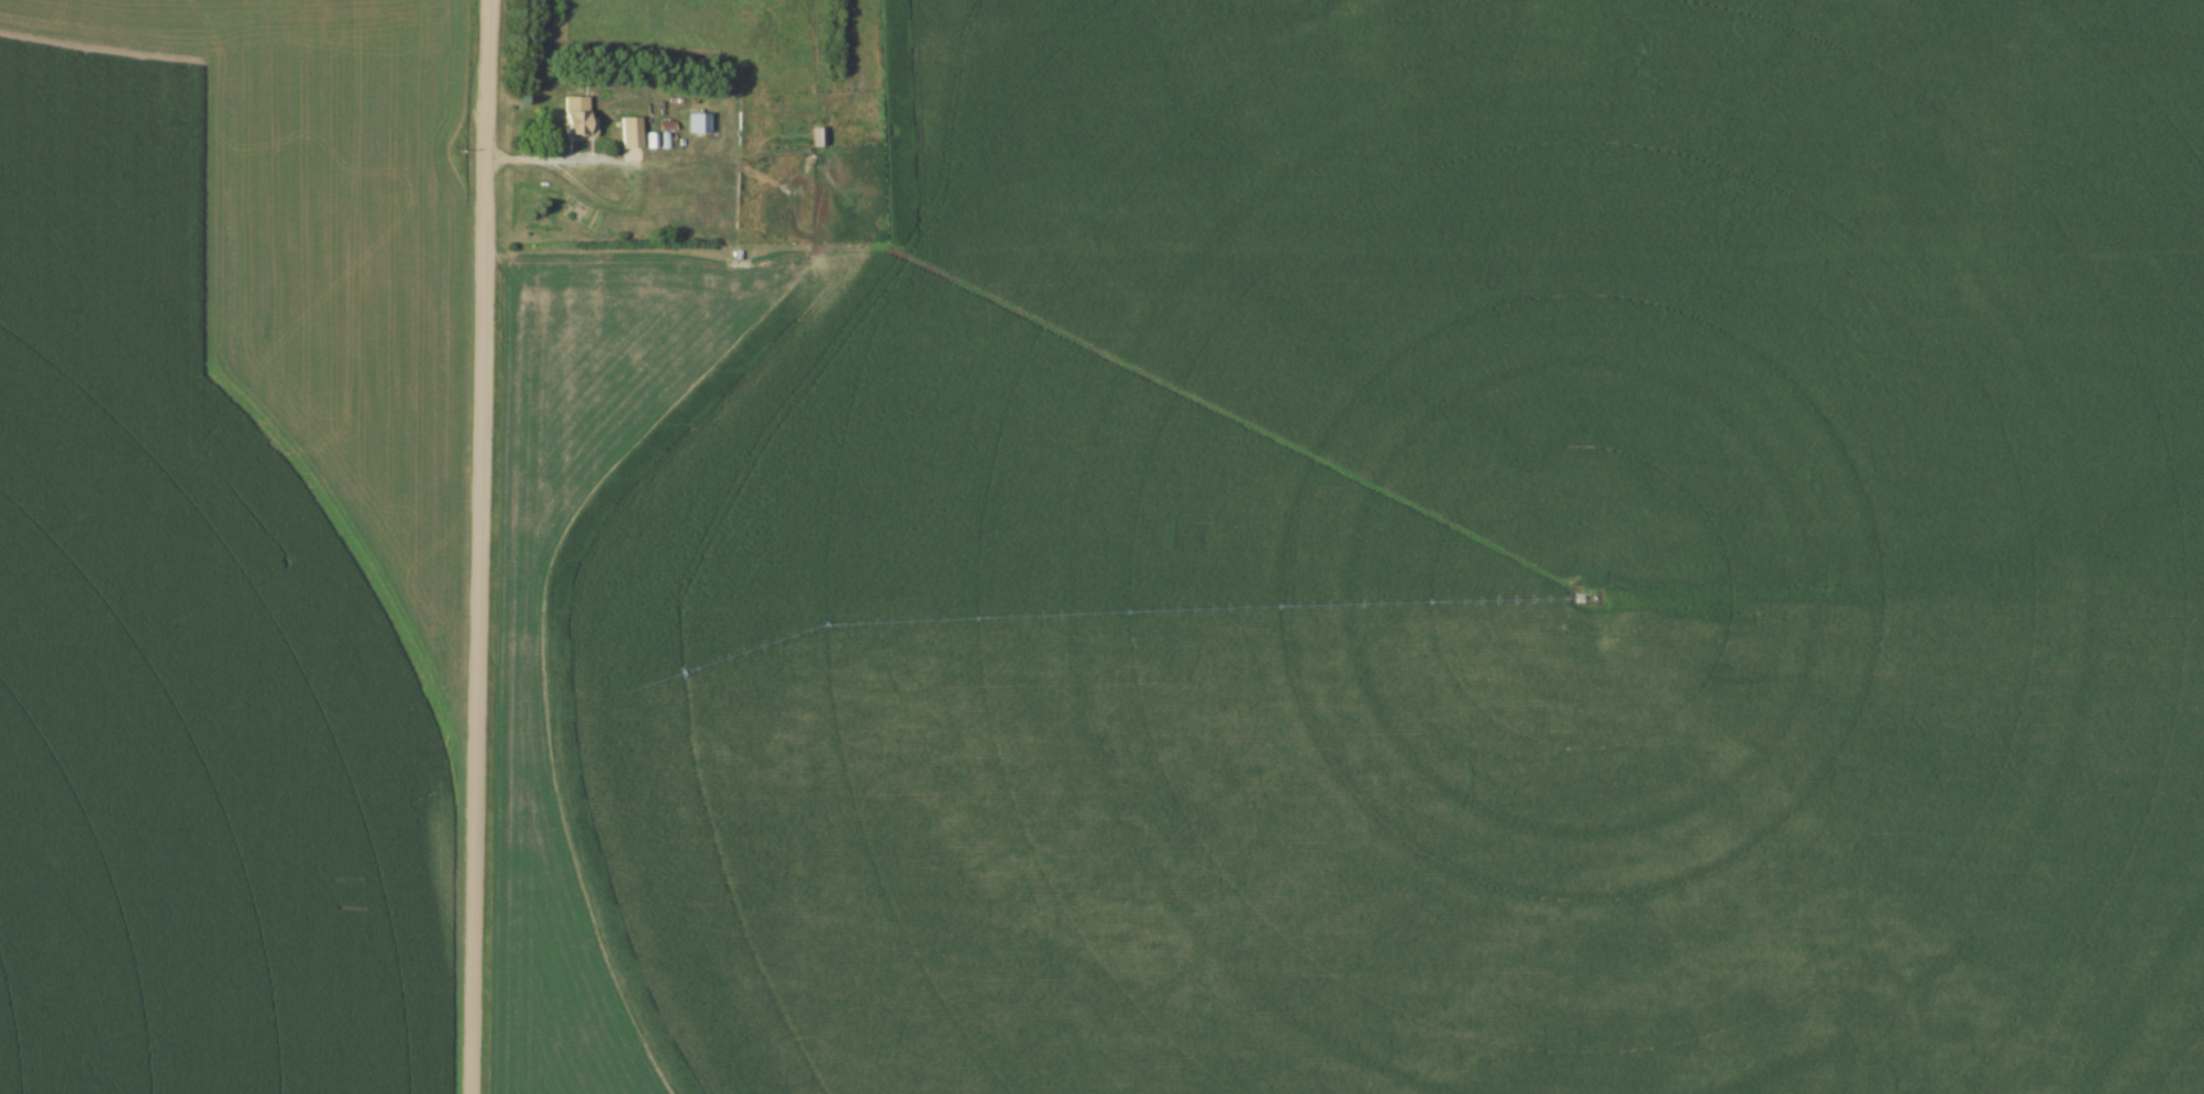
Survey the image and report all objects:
building: (580, 118)
building: (699, 123)
building: (632, 133)
building: (817, 137)
road: (475, 546)

